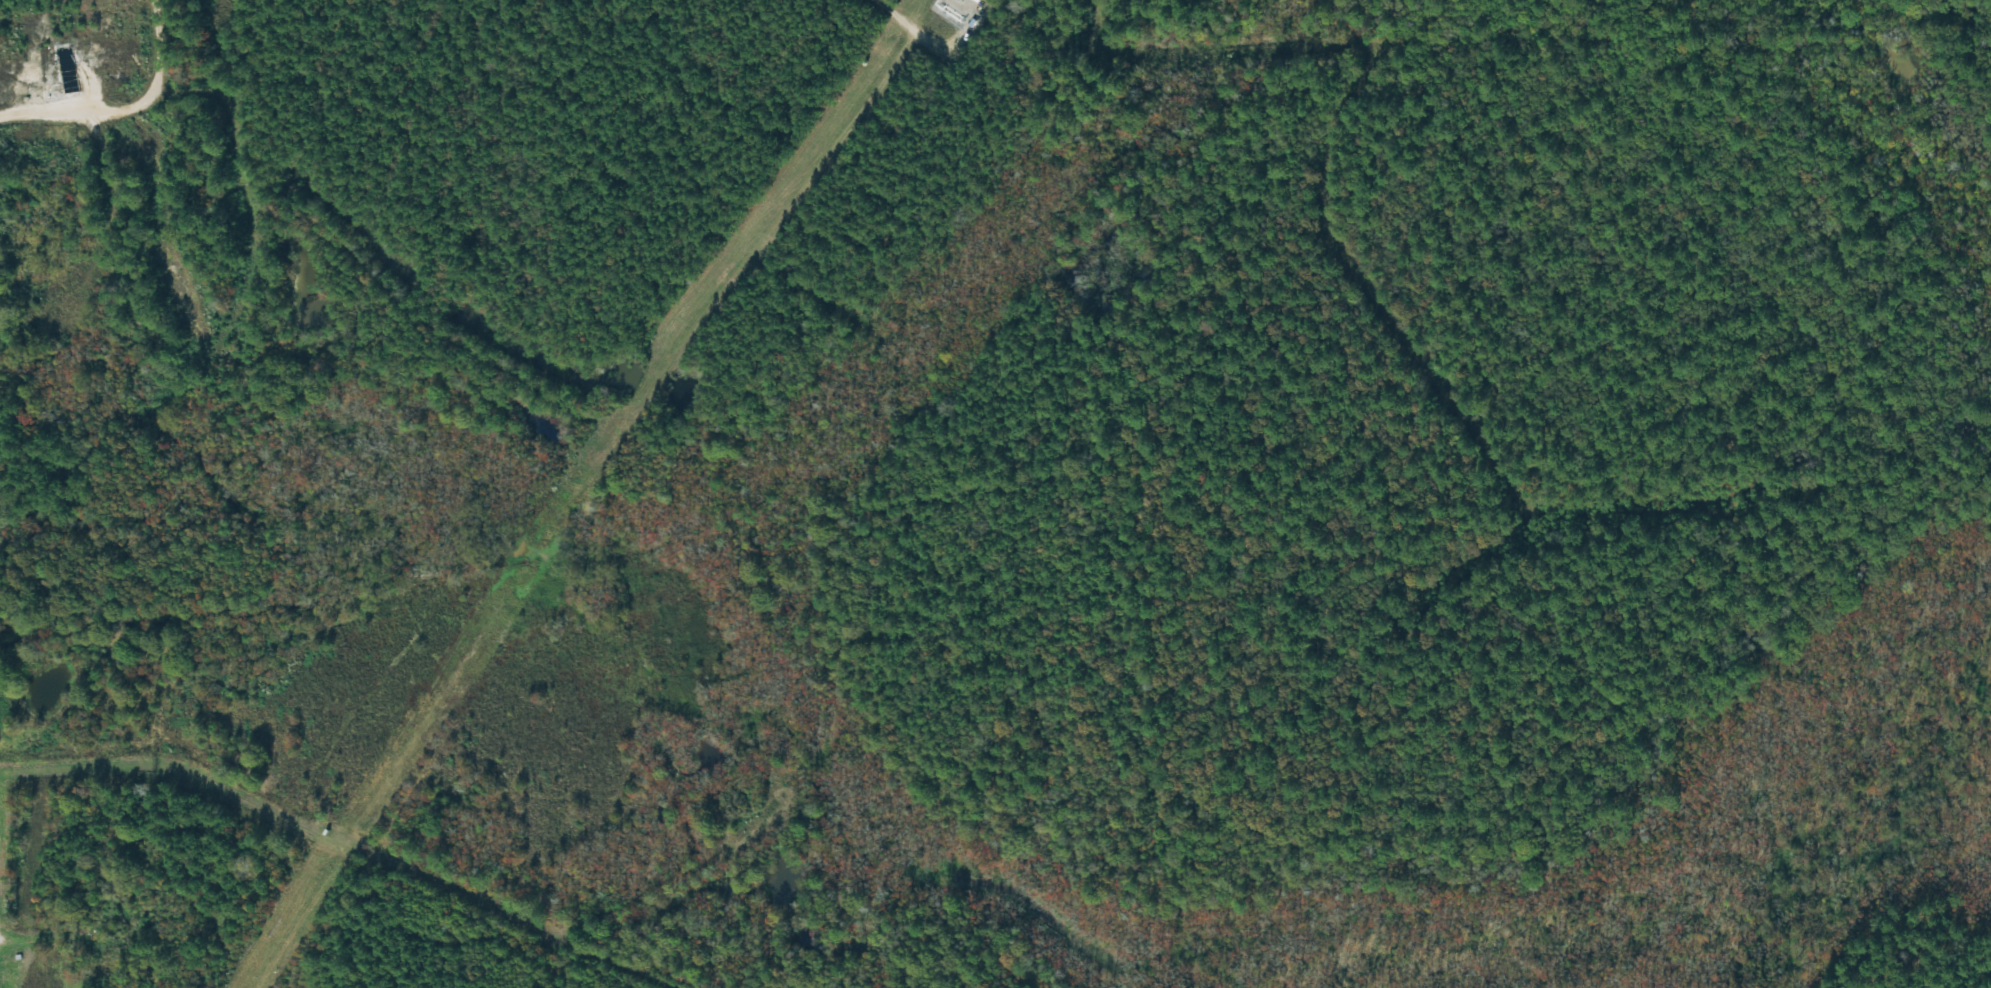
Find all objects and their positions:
road: (1050, 4)
road: (141, 24)
road: (228, 117)
road: (343, 849)

